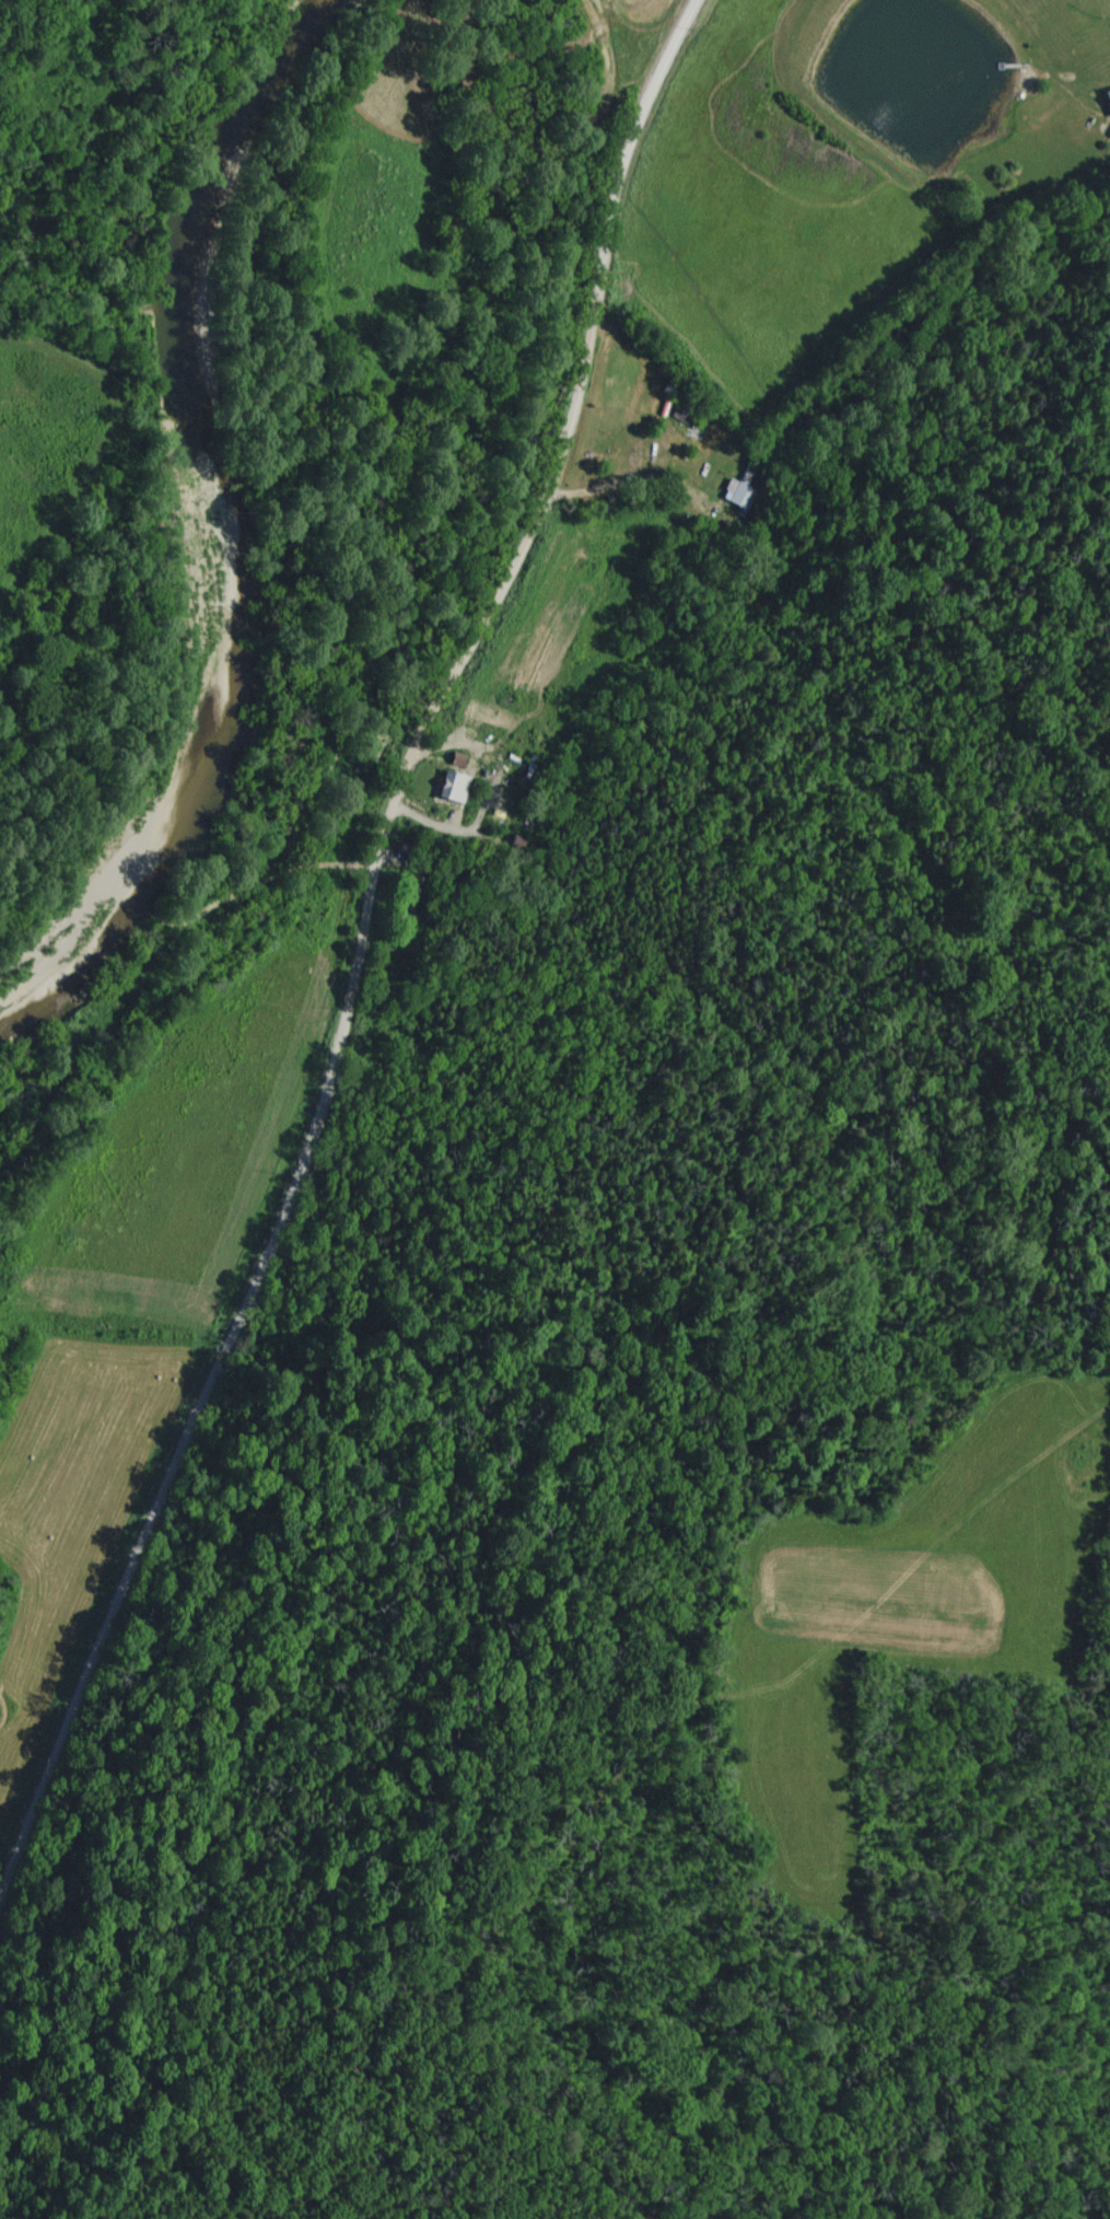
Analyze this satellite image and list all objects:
building: (1106, 100)
crop: (806, 173)
crop: (51, 438)
road: (646, 473)
building: (739, 496)
river: (236, 543)
building: (448, 789)
road: (361, 949)

